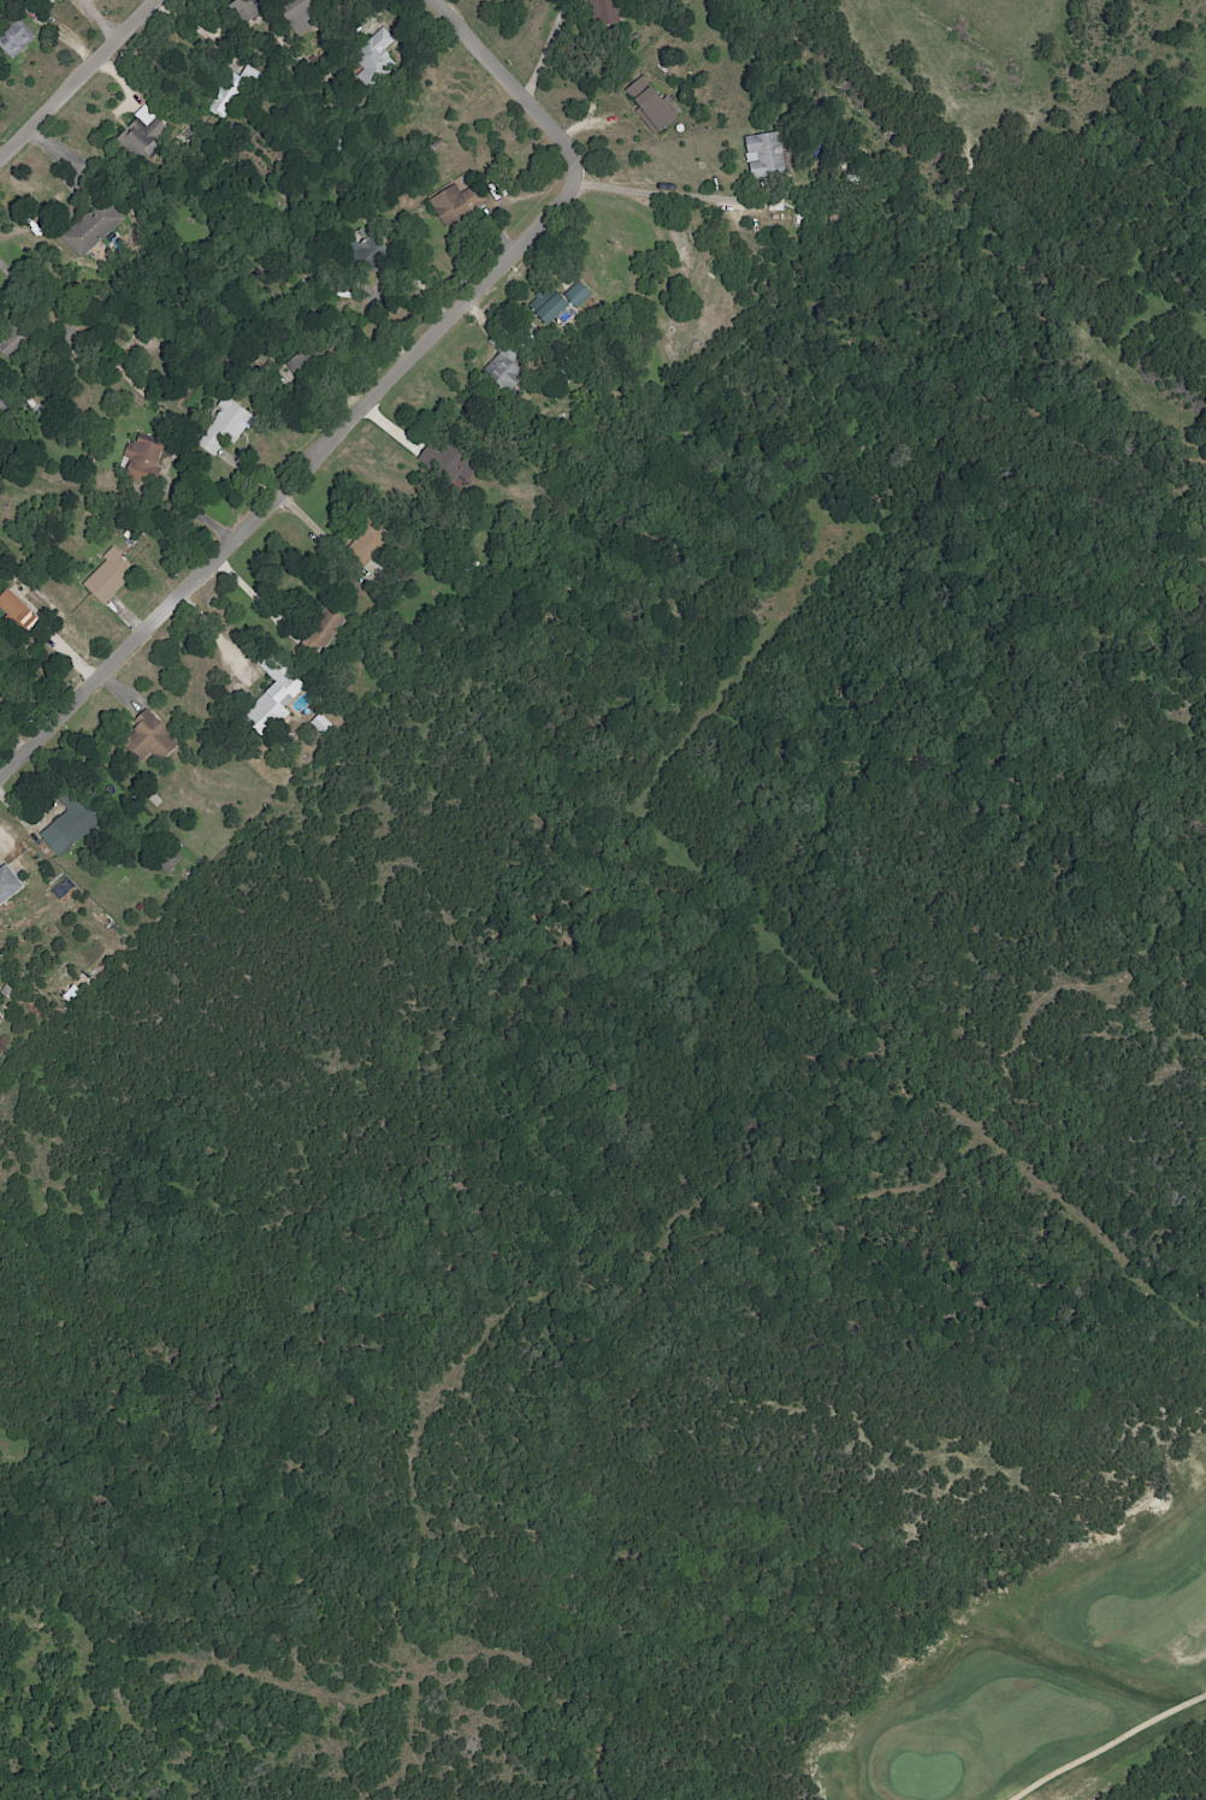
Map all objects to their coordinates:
building: (243, 11)
building: (602, 11)
building: (14, 39)
building: (373, 53)
road: (75, 77)
building: (230, 94)
building: (649, 106)
building: (138, 132)
building: (763, 154)
road: (652, 194)
building: (456, 201)
building: (90, 227)
road: (23, 284)
building: (577, 295)
building: (554, 310)
road: (379, 403)
building: (224, 427)
building: (142, 458)
road: (319, 535)
building: (365, 543)
building: (106, 578)
building: (16, 611)
building: (320, 630)
road: (220, 638)
building: (272, 697)
building: (148, 739)
building: (67, 824)
building: (7, 884)
road: (1107, 1745)

